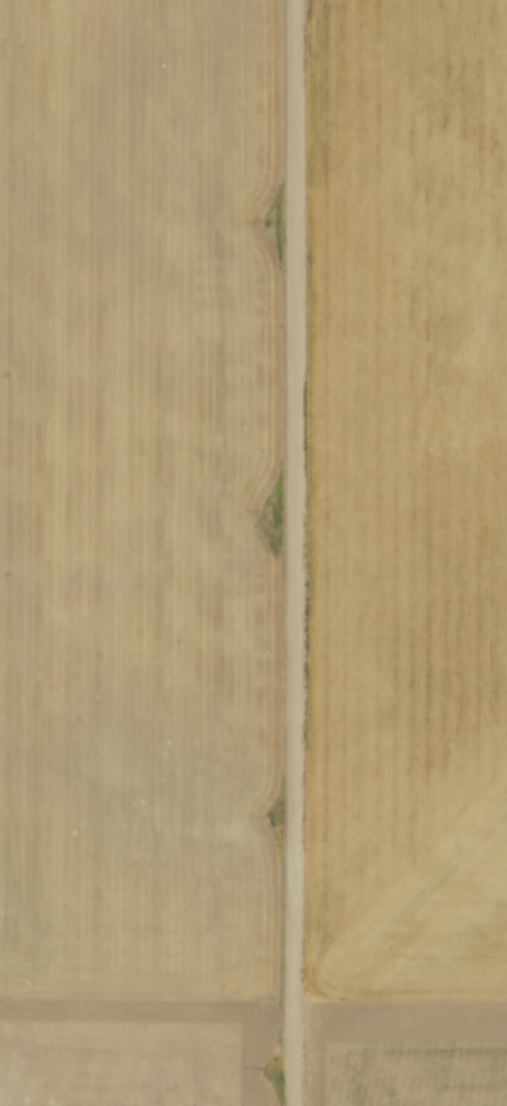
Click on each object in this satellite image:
road: (293, 552)
crop: (139, 554)
crop: (405, 554)

